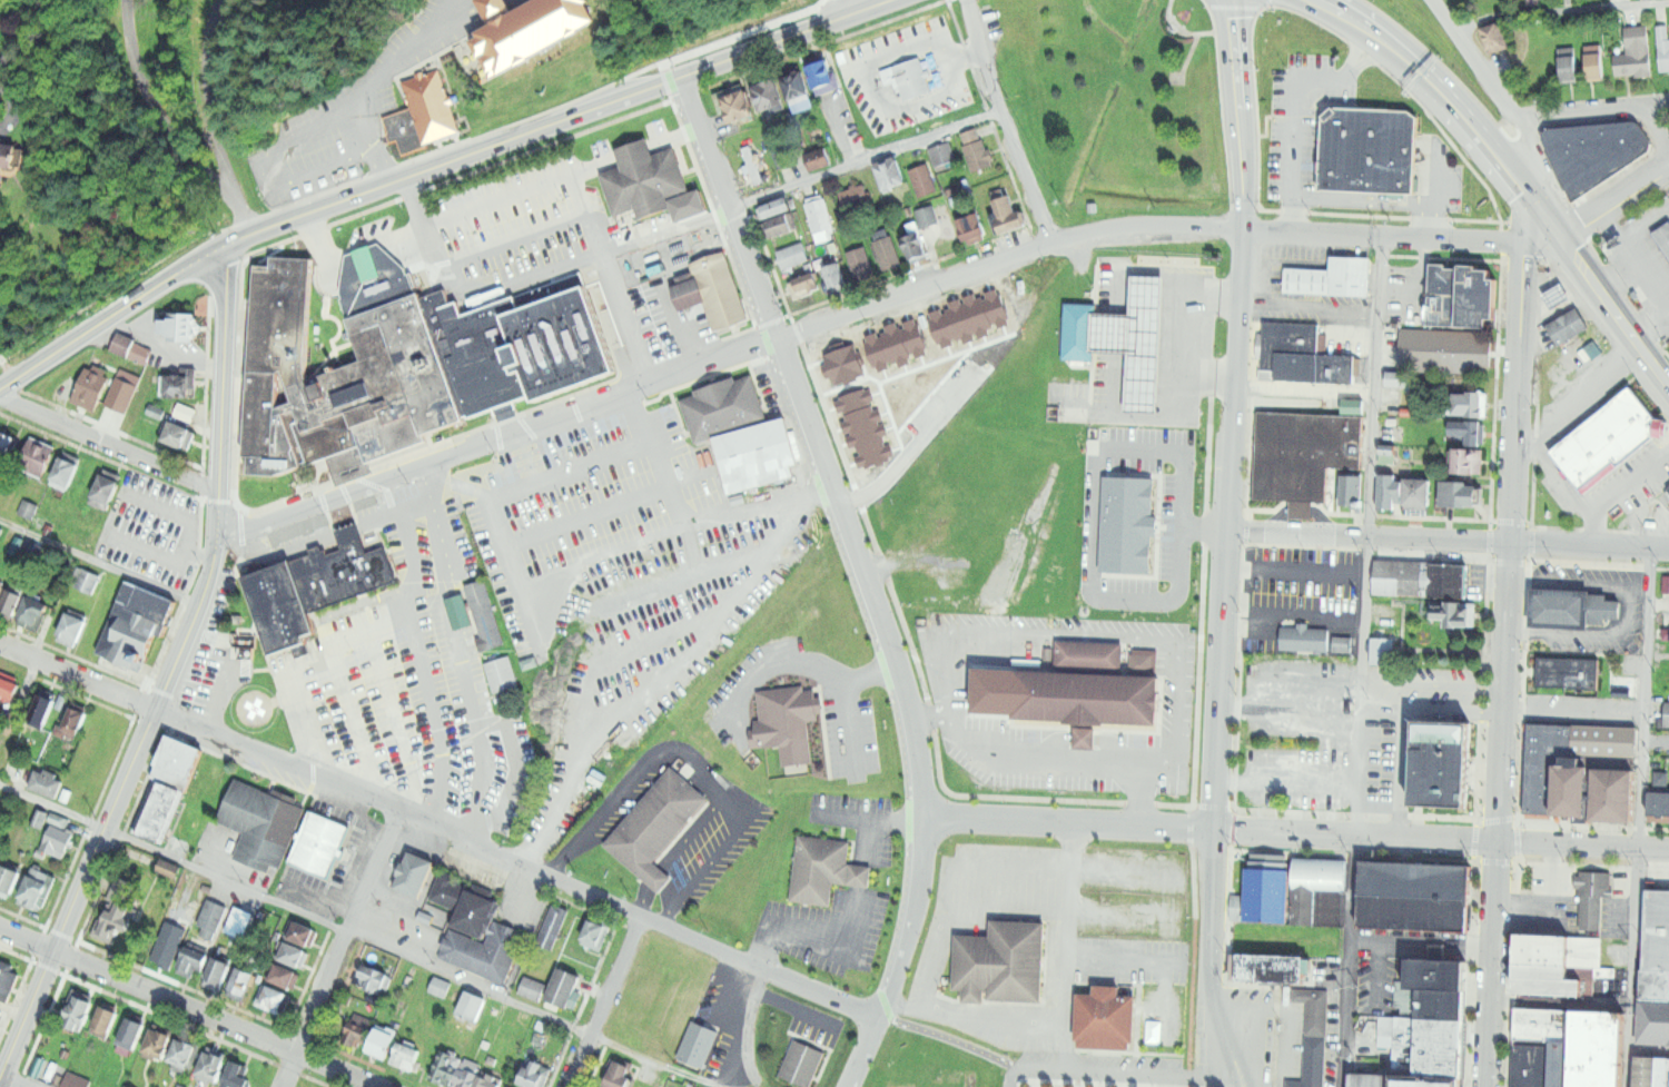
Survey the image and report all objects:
building: (1535, 1)
road: (846, 9)
road: (1560, 9)
parking lot: (441, 28)
building: (524, 29)
road: (1191, 32)
building: (1495, 37)
building: (1663, 46)
building: (1638, 51)
road: (1188, 57)
building: (1596, 62)
building: (1567, 63)
road: (383, 66)
road: (862, 69)
parking lot: (905, 75)
building: (824, 76)
building: (909, 77)
road: (1494, 87)
building: (799, 89)
building: (770, 95)
park: (1117, 102)
road: (1297, 102)
building: (735, 103)
road: (9, 109)
road: (156, 111)
road: (1594, 111)
building: (418, 113)
parking lot: (1303, 115)
road: (213, 120)
road: (1004, 121)
building: (977, 149)
building: (1373, 150)
building: (12, 152)
building: (1600, 152)
road: (316, 154)
building: (779, 156)
building: (941, 157)
building: (819, 158)
parking lot: (303, 159)
building: (752, 164)
road: (436, 166)
road: (1513, 172)
building: (890, 174)
building: (924, 179)
road: (1439, 180)
building: (643, 182)
road: (298, 188)
building: (855, 197)
road: (1379, 201)
road: (1616, 202)
road: (728, 208)
building: (776, 208)
road: (582, 209)
road: (725, 209)
building: (1009, 209)
building: (927, 216)
building: (819, 218)
parking lot: (515, 223)
building: (782, 226)
building: (974, 226)
road: (1383, 235)
building: (1665, 238)
road: (431, 243)
road: (512, 243)
building: (916, 248)
building: (886, 251)
building: (792, 256)
road: (1637, 256)
building: (859, 265)
building: (1332, 278)
building: (834, 279)
building: (803, 286)
building: (722, 290)
building: (1463, 296)
building: (1561, 296)
building: (688, 297)
building: (968, 316)
building: (184, 324)
road: (672, 325)
building: (1570, 326)
building: (1083, 330)
building: (1142, 342)
building: (893, 344)
building: (135, 347)
park: (1668, 348)
road: (178, 350)
building: (1446, 350)
building: (1303, 356)
road: (724, 357)
building: (397, 364)
building: (838, 365)
road: (7, 367)
building: (1398, 381)
building: (178, 386)
road: (1376, 386)
building: (92, 392)
road: (220, 393)
building: (122, 395)
road: (1581, 398)
building: (1473, 403)
building: (1353, 406)
building: (723, 408)
building: (860, 428)
building: (1469, 432)
building: (179, 434)
building: (1609, 441)
road: (108, 443)
building: (7, 444)
road: (912, 449)
building: (760, 455)
building: (1305, 456)
road: (611, 457)
building: (40, 458)
building: (1468, 462)
building: (67, 473)
building: (705, 473)
road: (1090, 490)
building: (107, 491)
building: (1350, 491)
building: (1668, 491)
building: (1406, 493)
building: (1462, 495)
road: (760, 506)
building: (28, 507)
road: (828, 511)
road: (591, 514)
road: (117, 515)
road: (1592, 517)
building: (1125, 522)
parking lot: (589, 528)
parking lot: (155, 530)
building: (85, 534)
road: (1449, 538)
road: (200, 545)
road: (1228, 547)
road: (611, 556)
road: (98, 561)
road: (1296, 572)
building: (87, 580)
building: (1421, 580)
building: (1666, 584)
building: (307, 587)
building: (1, 593)
building: (1267, 604)
building: (11, 606)
building: (1573, 610)
building: (485, 614)
building: (1452, 615)
building: (36, 616)
road: (559, 616)
road: (1339, 624)
building: (134, 625)
building: (71, 631)
road: (1182, 634)
building: (1300, 639)
building: (1339, 644)
road: (1505, 646)
road: (416, 650)
building: (1382, 652)
road: (456, 654)
parking lot: (658, 659)
road: (813, 666)
building: (1568, 673)
road: (656, 674)
road: (867, 675)
building: (503, 681)
road: (340, 683)
parking lot: (413, 683)
road: (1390, 684)
building: (1624, 686)
building: (8, 690)
road: (992, 692)
building: (1090, 692)
building: (45, 706)
helipad: (255, 709)
road: (907, 709)
building: (1667, 713)
building: (76, 718)
road: (1574, 718)
building: (782, 723)
road: (305, 725)
road: (393, 727)
road: (697, 762)
building: (1445, 763)
building: (1584, 770)
road: (1643, 777)
building: (47, 782)
building: (164, 788)
road: (1140, 797)
building: (1658, 809)
road: (111, 811)
road: (868, 814)
building: (38, 817)
building: (263, 824)
building: (656, 827)
road: (438, 828)
road: (695, 832)
road: (1295, 832)
road: (868, 834)
building: (58, 840)
building: (318, 846)
road: (997, 867)
building: (171, 868)
building: (824, 870)
building: (1319, 872)
building: (415, 876)
road: (656, 878)
building: (10, 879)
building: (39, 888)
parking lot: (988, 891)
parking lot: (1547, 893)
building: (1268, 895)
building: (1414, 896)
building: (1594, 898)
road: (645, 900)
building: (466, 903)
building: (1236, 907)
building: (1304, 907)
building: (120, 908)
building: (1330, 908)
road: (1066, 915)
building: (208, 916)
building: (554, 928)
building: (302, 930)
parking lot: (1140, 930)
building: (594, 935)
road: (359, 937)
road: (818, 939)
building: (1655, 945)
road: (1422, 946)
road: (1069, 947)
road: (340, 949)
building: (487, 950)
building: (1549, 950)
building: (290, 952)
building: (191, 959)
road: (1155, 961)
road: (1350, 961)
building: (1008, 965)
building: (664, 967)
building: (1268, 968)
building: (1334, 970)
building: (218, 972)
building: (1436, 974)
building: (284, 975)
building: (375, 978)
road: (1375, 978)
building: (1553, 979)
building: (8, 980)
building: (245, 980)
building: (563, 987)
building: (441, 988)
building: (532, 988)
building: (274, 998)
road: (604, 1001)
building: (649, 1004)
building: (1444, 1005)
road: (188, 1008)
building: (472, 1008)
building: (79, 1010)
building: (1313, 1010)
building: (2, 1012)
building: (1112, 1019)
building: (105, 1020)
road: (972, 1022)
building: (1545, 1024)
building: (1655, 1025)
building: (131, 1030)
building: (359, 1031)
building: (630, 1039)
building: (384, 1040)
building: (160, 1041)
building: (699, 1045)
building: (1442, 1049)
building: (1601, 1049)
building: (185, 1051)
building: (408, 1057)
building: (802, 1064)
parking lot: (1103, 1064)
building: (1314, 1064)
building: (1532, 1064)
building: (1561, 1064)
building: (213, 1065)
building: (464, 1071)
building: (535, 1073)
building: (1649, 1073)
road: (1119, 1074)
building: (1665, 1074)
building: (622, 1075)
building: (238, 1076)
road: (1082, 1079)
road: (16, 1080)
building: (77, 1080)
road: (1235, 1081)
building: (1379, 1081)
road: (1105, 1083)
building: (1432, 1083)
building: (127, 1086)

